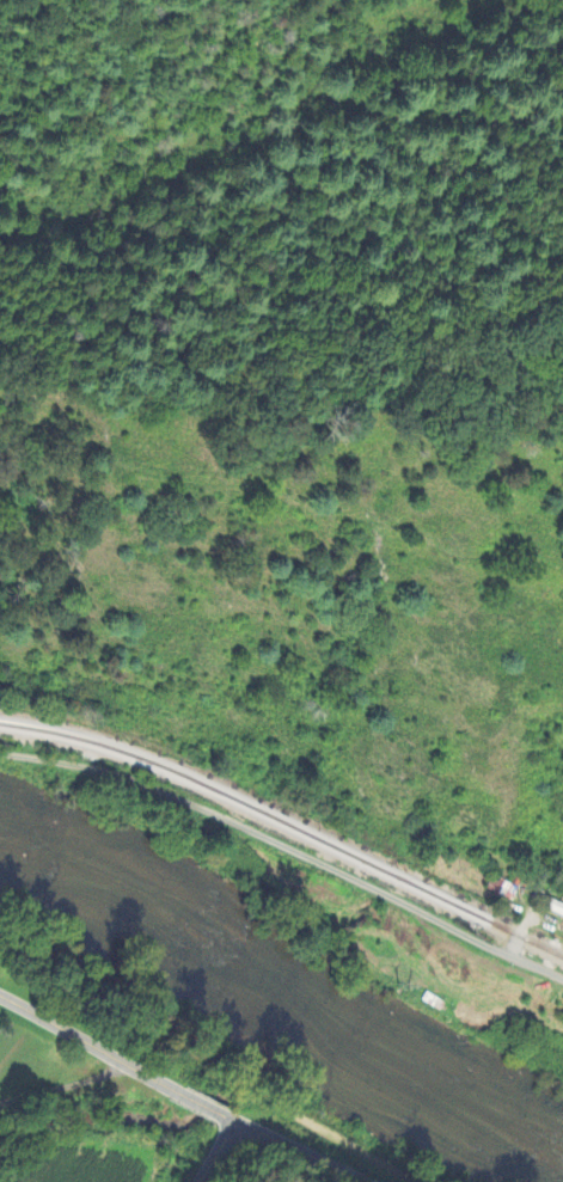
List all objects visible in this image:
railway: (286, 826)
road: (287, 853)
building: (502, 888)
building: (552, 907)
road: (518, 938)
river: (277, 1004)
road: (177, 1094)
road: (218, 1152)

